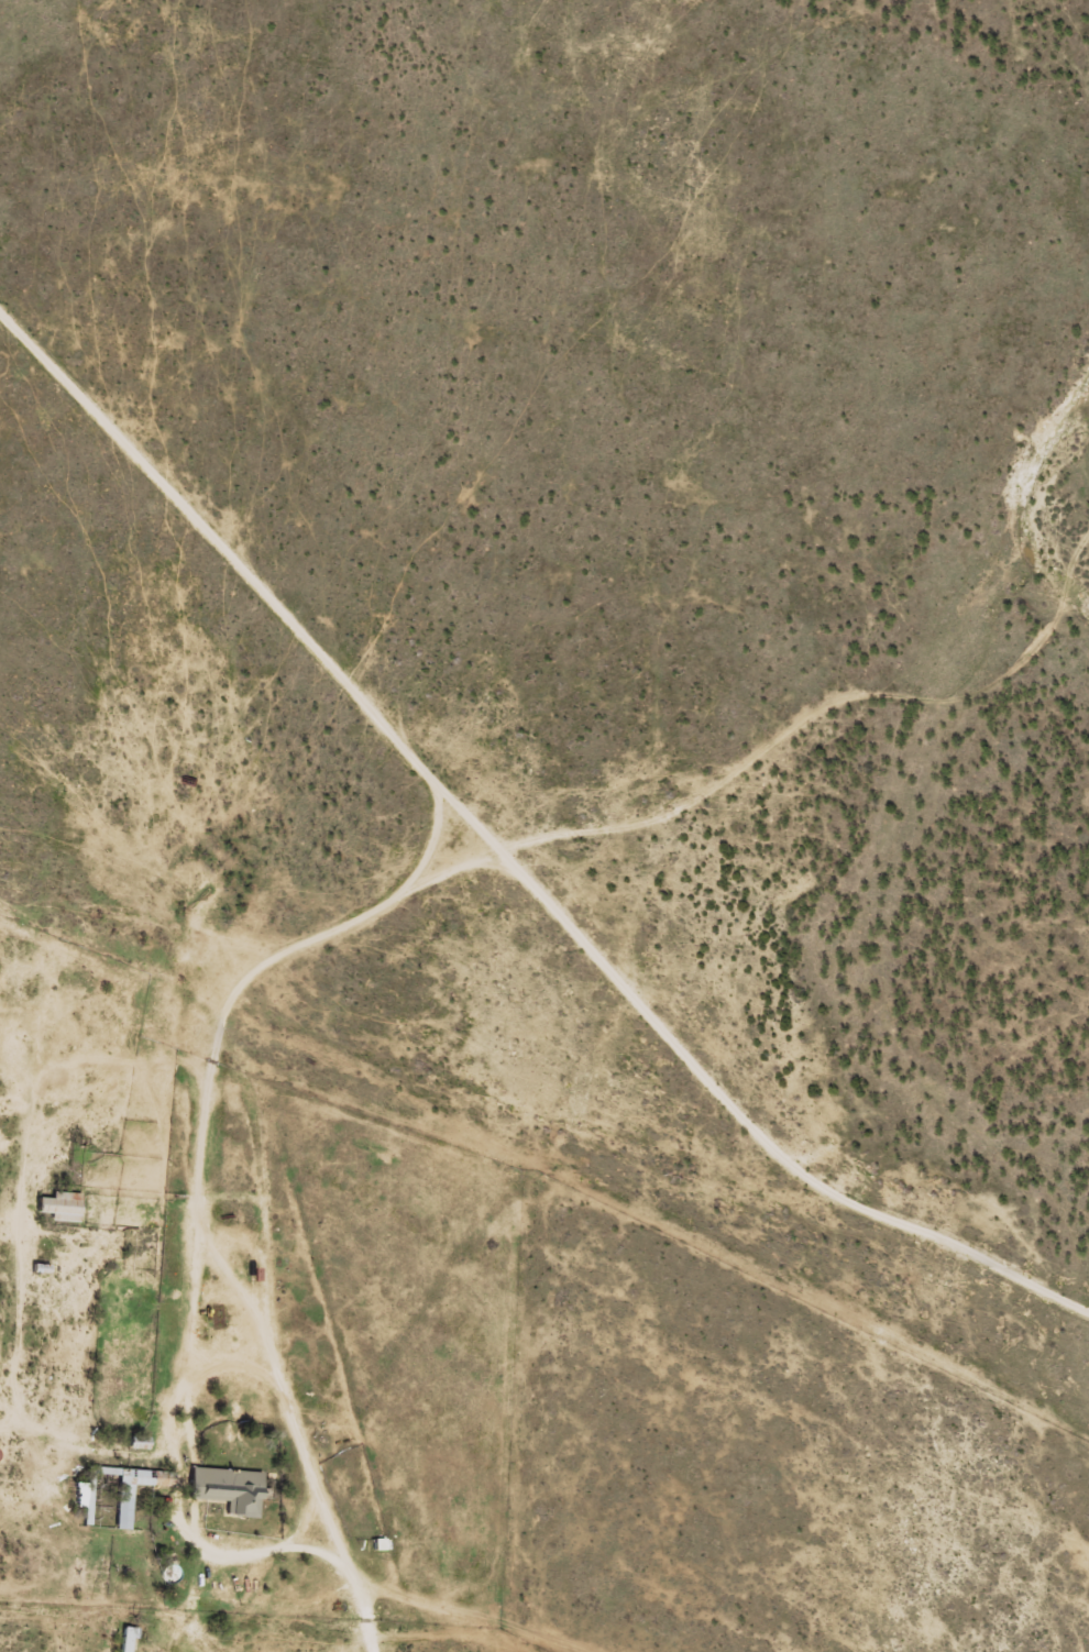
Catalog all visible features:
road: (339, 745)
road: (557, 884)
road: (687, 1152)
building: (59, 1207)
road: (209, 1326)
building: (227, 1488)
building: (75, 1493)
building: (123, 1508)
road: (88, 1588)
building: (125, 1640)
road: (169, 1649)

